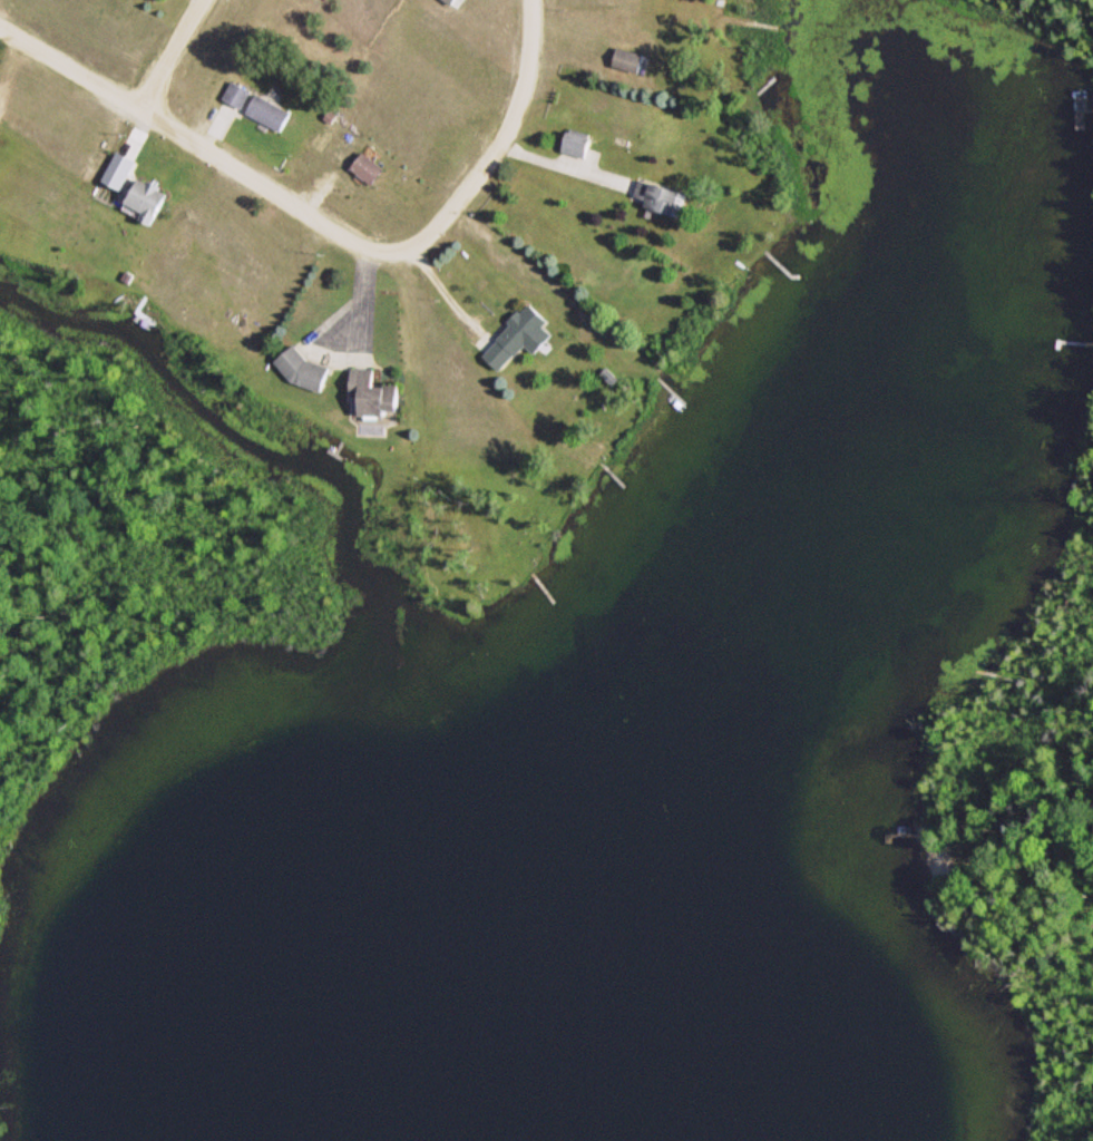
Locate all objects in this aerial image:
road: (172, 53)
building: (263, 104)
road: (198, 143)
road: (502, 144)
building: (374, 167)
building: (152, 199)
building: (526, 335)
building: (312, 371)
river: (223, 422)

